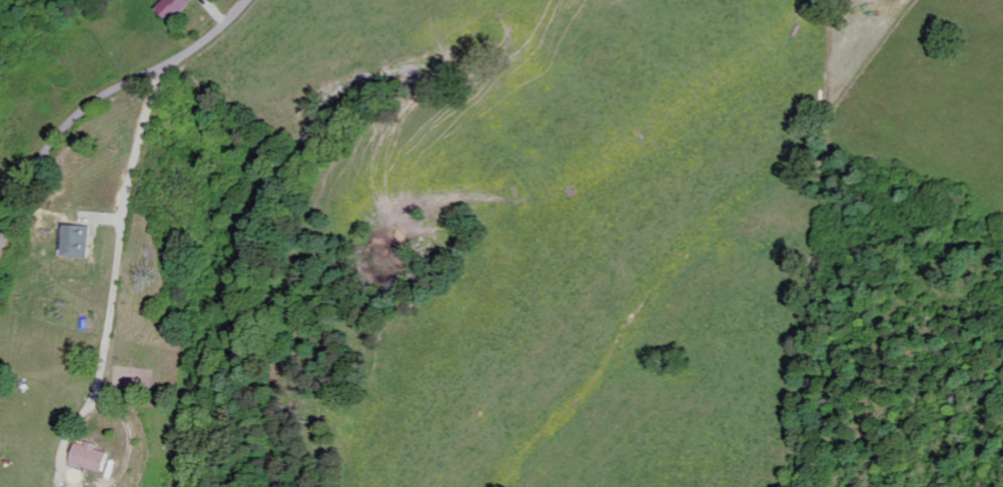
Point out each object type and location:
building: (173, 8)
road: (100, 100)
building: (77, 241)
road: (116, 246)
building: (95, 457)

